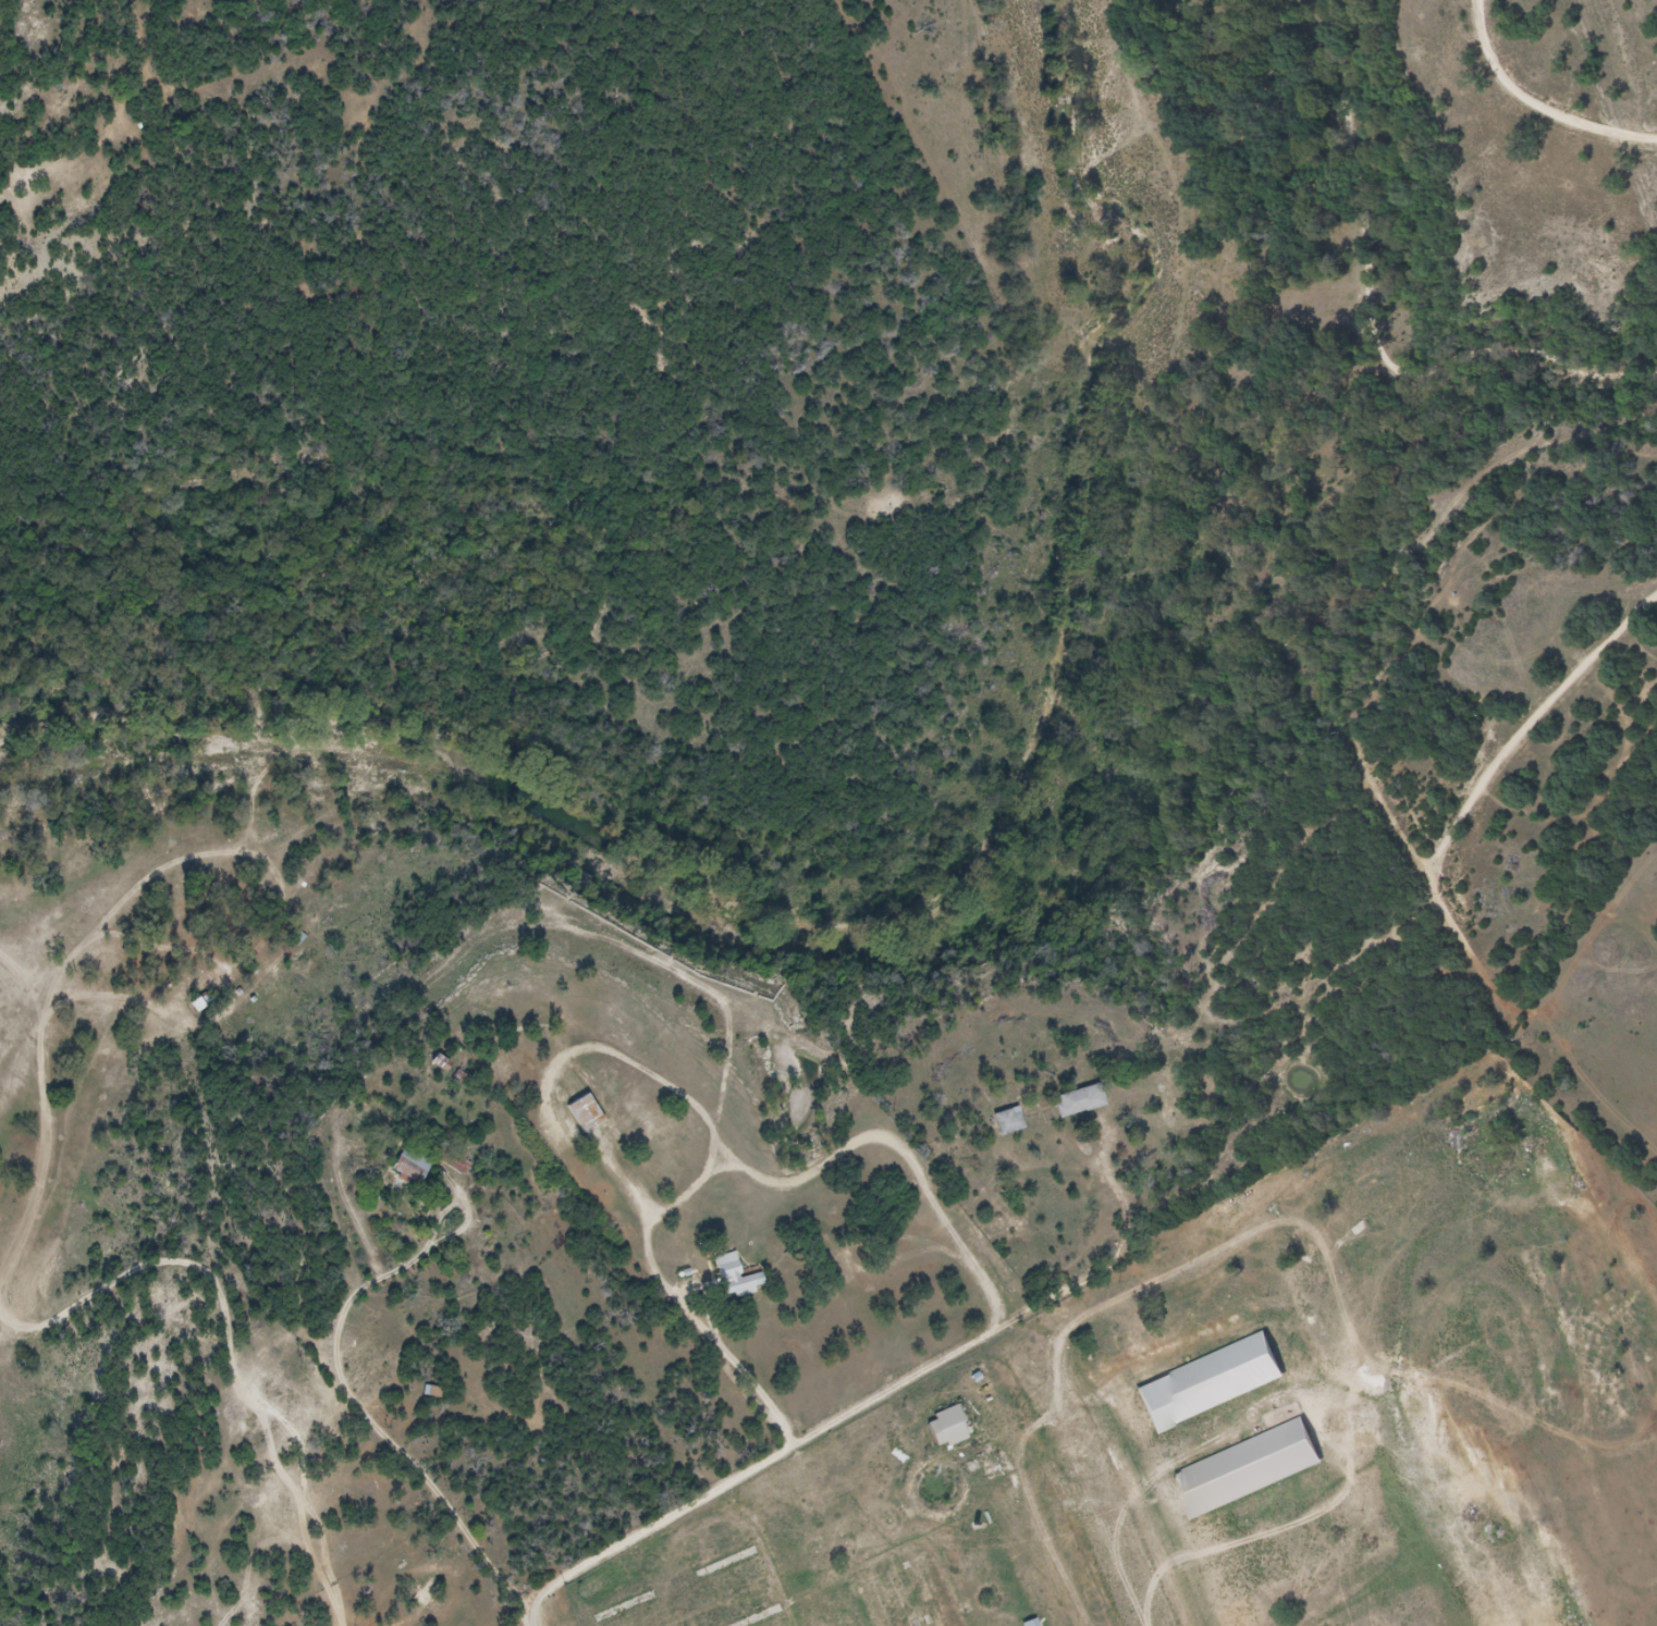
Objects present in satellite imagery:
road: (1535, 108)
road: (1524, 727)
building: (1082, 1105)
building: (577, 1112)
building: (1010, 1122)
road: (708, 1128)
building: (414, 1167)
building: (732, 1277)
building: (1203, 1382)
building: (434, 1391)
building: (953, 1427)
building: (1242, 1468)
road: (287, 1485)
road: (648, 1528)
building: (426, 1596)
road: (335, 1622)
building: (1035, 1623)
road: (405, 1624)

